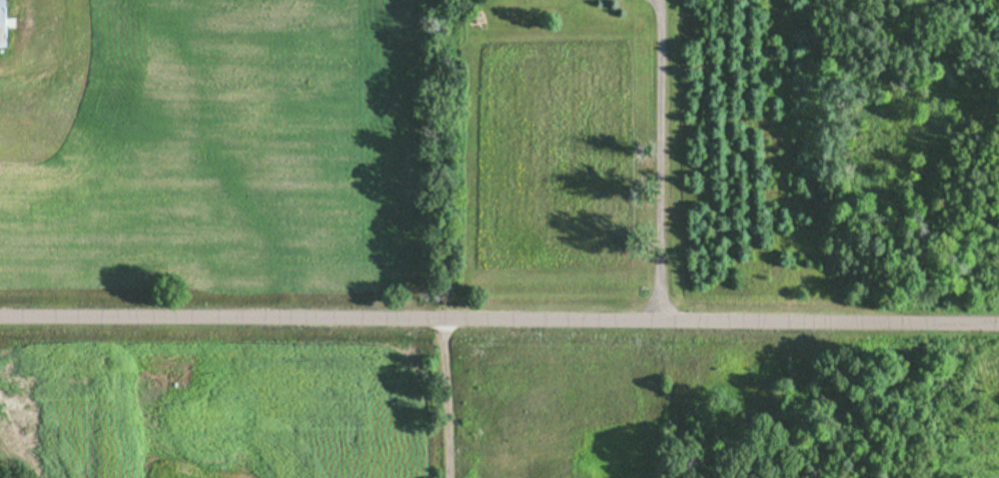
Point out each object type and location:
building: (1, 24)
road: (659, 158)
road: (499, 317)
road: (445, 397)

